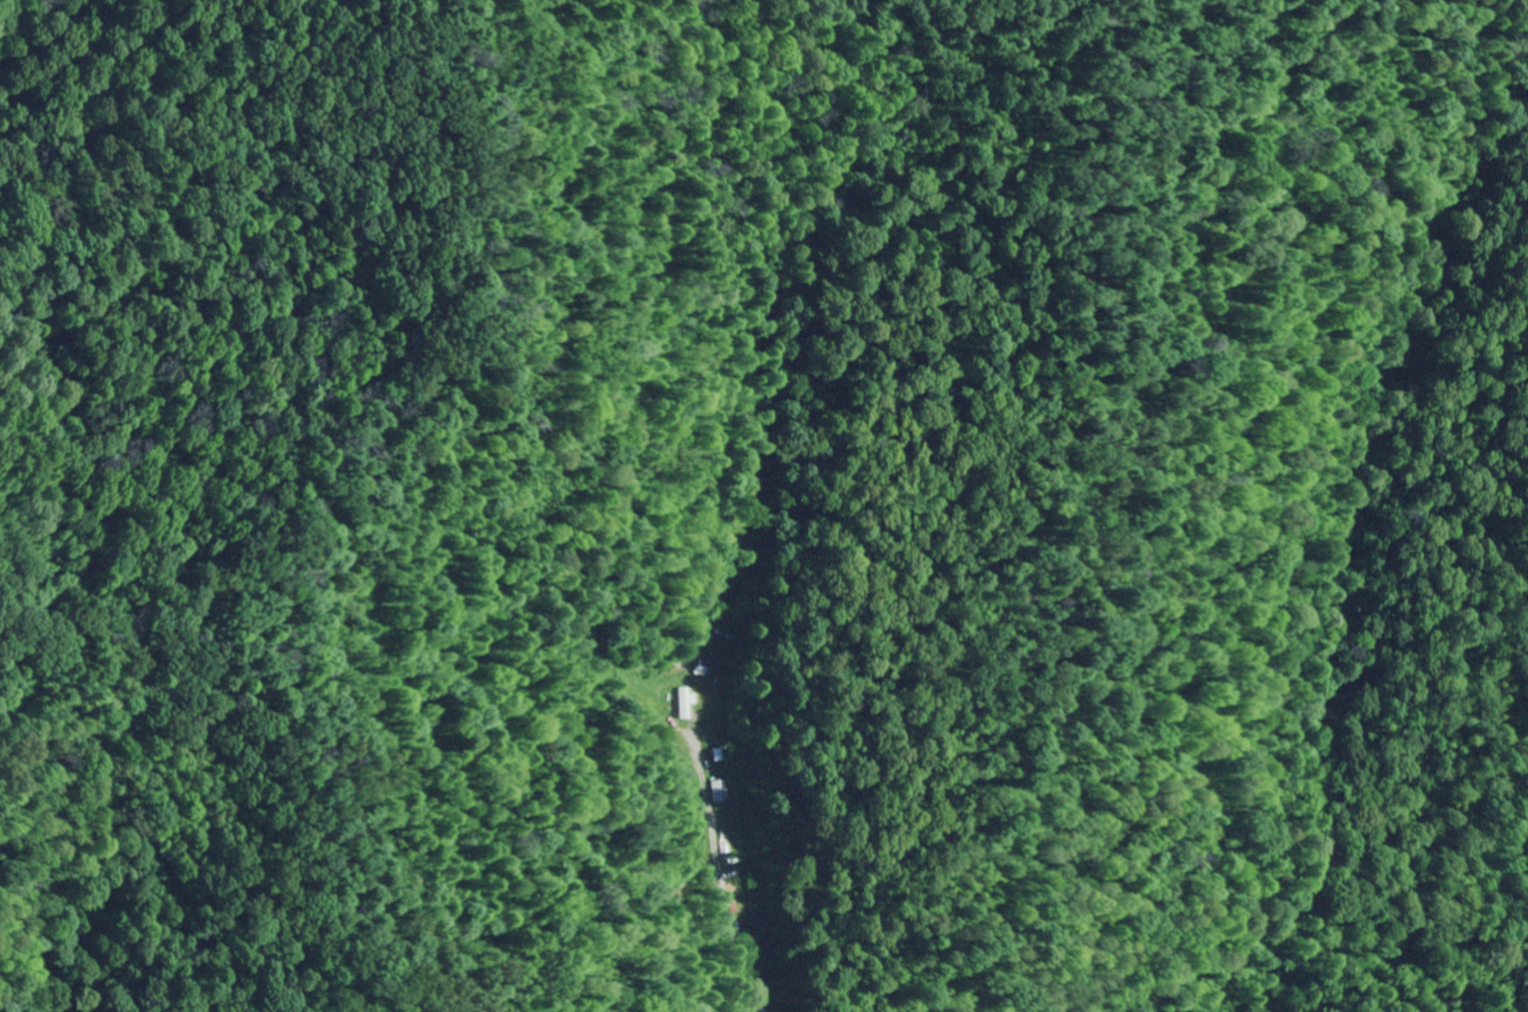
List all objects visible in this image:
building: (687, 703)
road: (737, 934)

